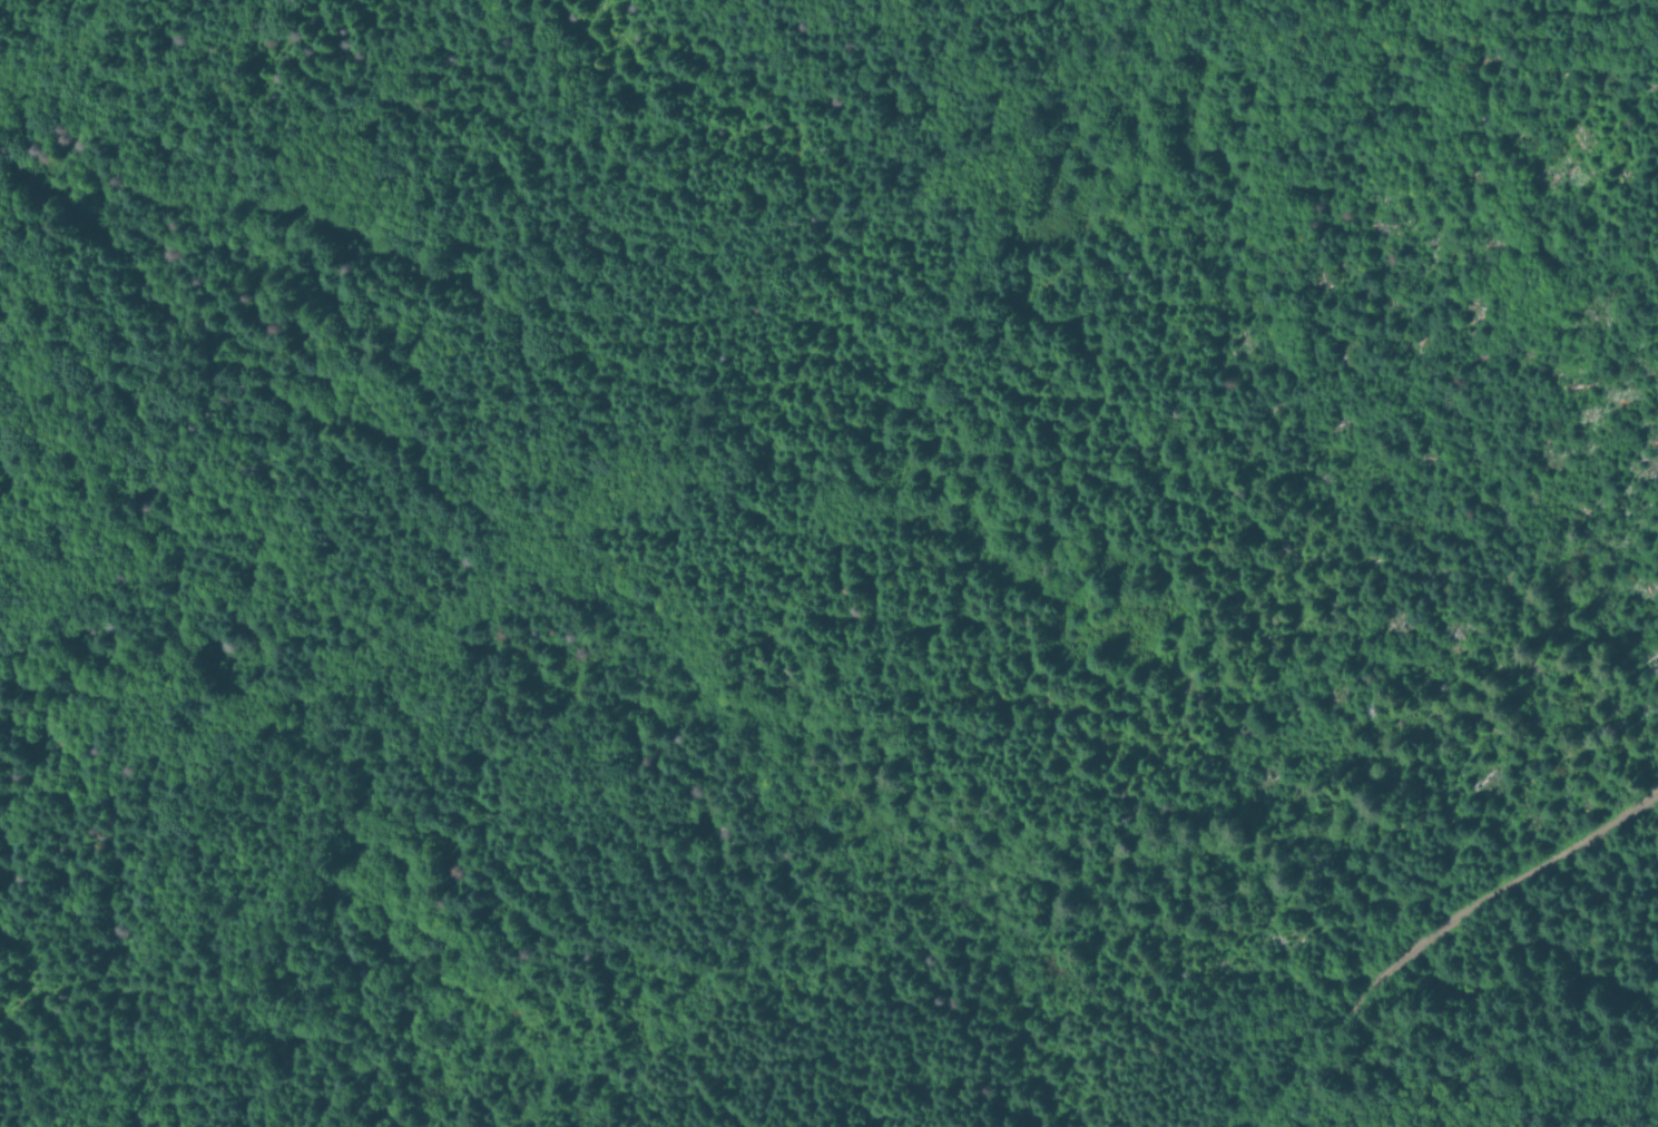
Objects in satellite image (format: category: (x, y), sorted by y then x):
road: (1435, 937)

